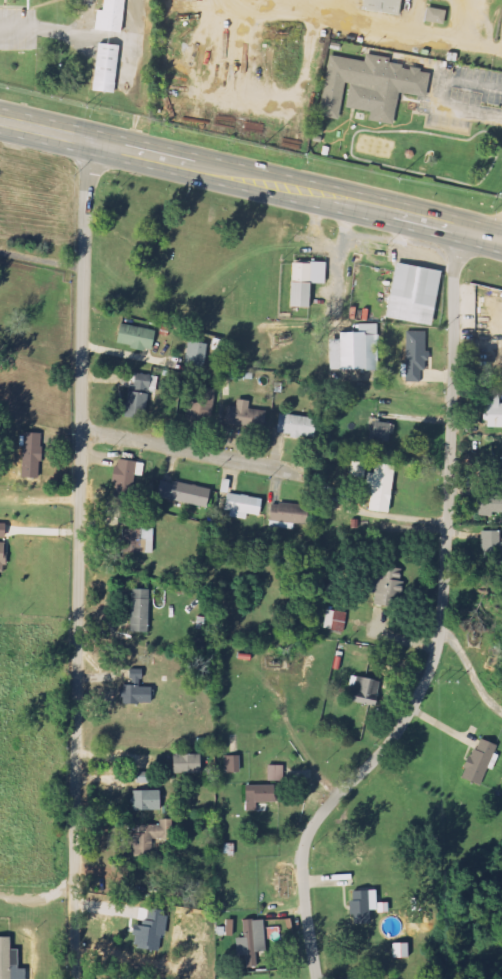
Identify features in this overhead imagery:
building: (380, 6)
building: (108, 15)
building: (433, 15)
road: (68, 32)
road: (136, 47)
building: (104, 66)
building: (367, 86)
road: (444, 93)
power tower: (92, 108)
road: (47, 131)
power tower: (300, 155)
road: (298, 190)
power tower: (493, 197)
building: (303, 281)
building: (410, 293)
building: (134, 337)
building: (354, 349)
building: (415, 356)
building: (194, 358)
building: (136, 396)
building: (202, 402)
building: (491, 406)
building: (243, 415)
building: (292, 425)
building: (381, 430)
road: (189, 451)
building: (29, 455)
building: (127, 470)
building: (380, 488)
building: (181, 493)
building: (490, 498)
building: (241, 504)
building: (286, 515)
building: (1, 530)
building: (137, 540)
building: (1, 558)
road: (79, 560)
building: (385, 585)
building: (138, 611)
building: (335, 620)
road: (440, 626)
building: (133, 690)
building: (359, 691)
building: (477, 762)
building: (184, 764)
building: (232, 764)
building: (274, 773)
building: (255, 796)
building: (145, 800)
building: (146, 838)
building: (358, 907)
building: (228, 927)
building: (149, 931)
building: (398, 950)

